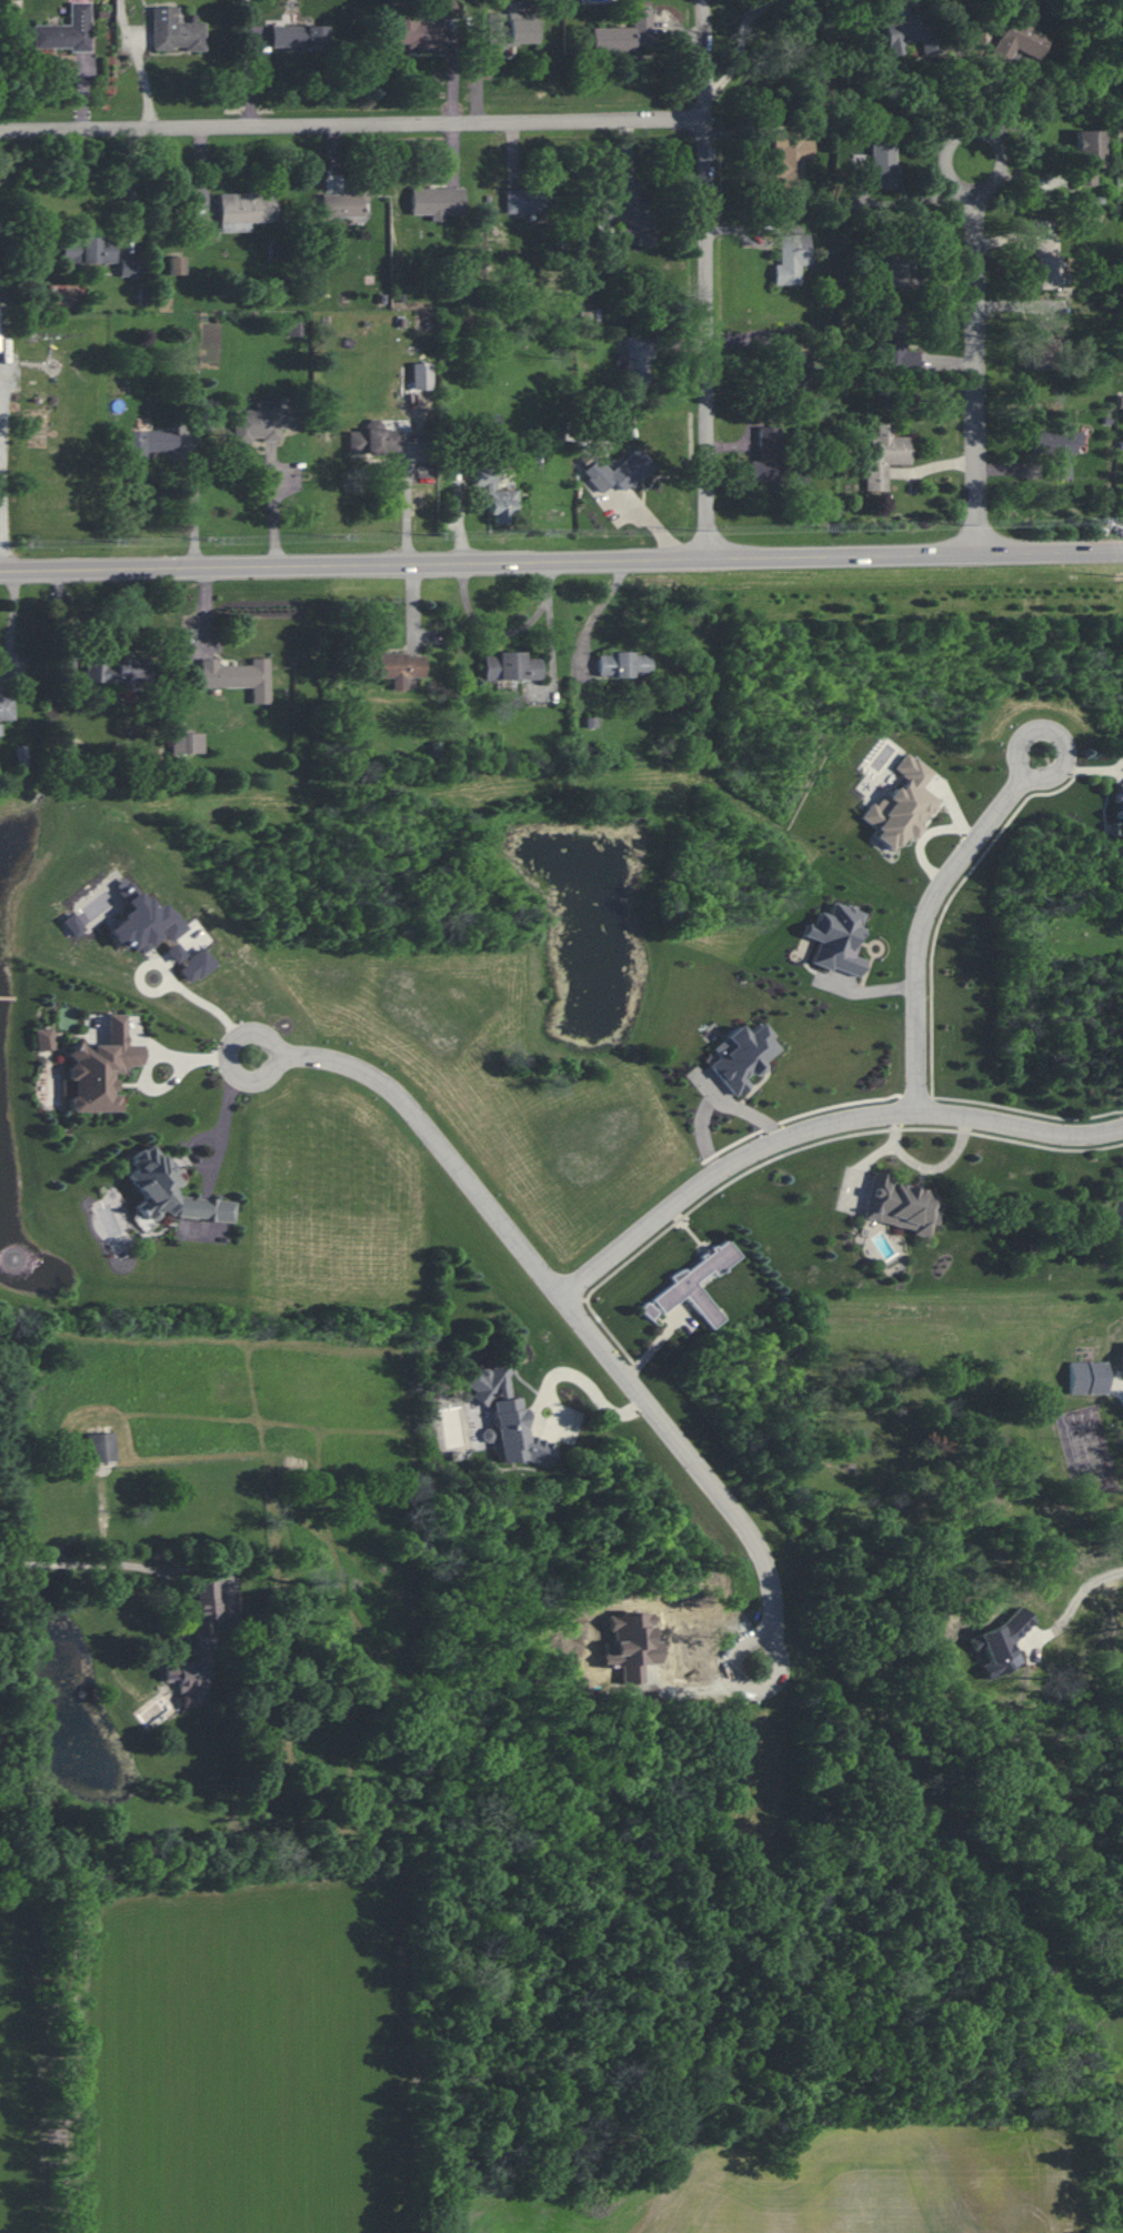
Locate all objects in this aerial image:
road: (249, 20)
road: (127, 21)
building: (414, 29)
building: (68, 31)
building: (177, 32)
building: (509, 33)
road: (680, 33)
building: (626, 34)
building: (908, 34)
building: (1020, 37)
building: (302, 38)
road: (743, 51)
road: (706, 61)
road: (254, 74)
road: (458, 76)
road: (146, 77)
road: (482, 82)
road: (965, 89)
road: (86, 91)
road: (354, 127)
road: (742, 134)
road: (630, 153)
building: (1087, 155)
road: (457, 157)
road: (518, 158)
building: (793, 159)
road: (340, 162)
building: (879, 164)
road: (205, 178)
road: (136, 193)
building: (438, 202)
building: (532, 202)
building: (344, 204)
building: (245, 212)
building: (631, 215)
road: (749, 231)
building: (89, 254)
building: (793, 259)
building: (1044, 263)
building: (134, 266)
building: (180, 268)
building: (894, 271)
building: (1053, 328)
building: (293, 329)
road: (754, 339)
road: (710, 340)
road: (683, 345)
building: (893, 346)
building: (1041, 348)
road: (977, 350)
building: (641, 360)
building: (798, 376)
building: (1119, 402)
building: (260, 421)
building: (374, 439)
building: (150, 441)
road: (734, 445)
building: (1056, 447)
building: (884, 455)
building: (778, 463)
building: (621, 472)
building: (494, 495)
road: (410, 501)
road: (199, 505)
road: (274, 510)
road: (0, 545)
road: (1091, 549)
road: (1091, 551)
road: (529, 560)
road: (600, 613)
road: (552, 622)
road: (13, 634)
building: (623, 664)
building: (511, 666)
building: (393, 667)
building: (116, 670)
building: (238, 676)
building: (8, 711)
building: (192, 742)
building: (21, 755)
building: (901, 804)
building: (1120, 821)
road: (928, 916)
building: (143, 922)
building: (71, 924)
building: (835, 938)
building: (195, 965)
road: (214, 1007)
building: (43, 1038)
building: (740, 1055)
building: (100, 1068)
road: (221, 1117)
road: (818, 1128)
building: (169, 1193)
building: (900, 1205)
building: (693, 1285)
road: (570, 1309)
building: (1122, 1360)
building: (1087, 1377)
road: (588, 1384)
building: (507, 1418)
building: (101, 1447)
road: (79, 1563)
road: (1077, 1605)
building: (197, 1644)

